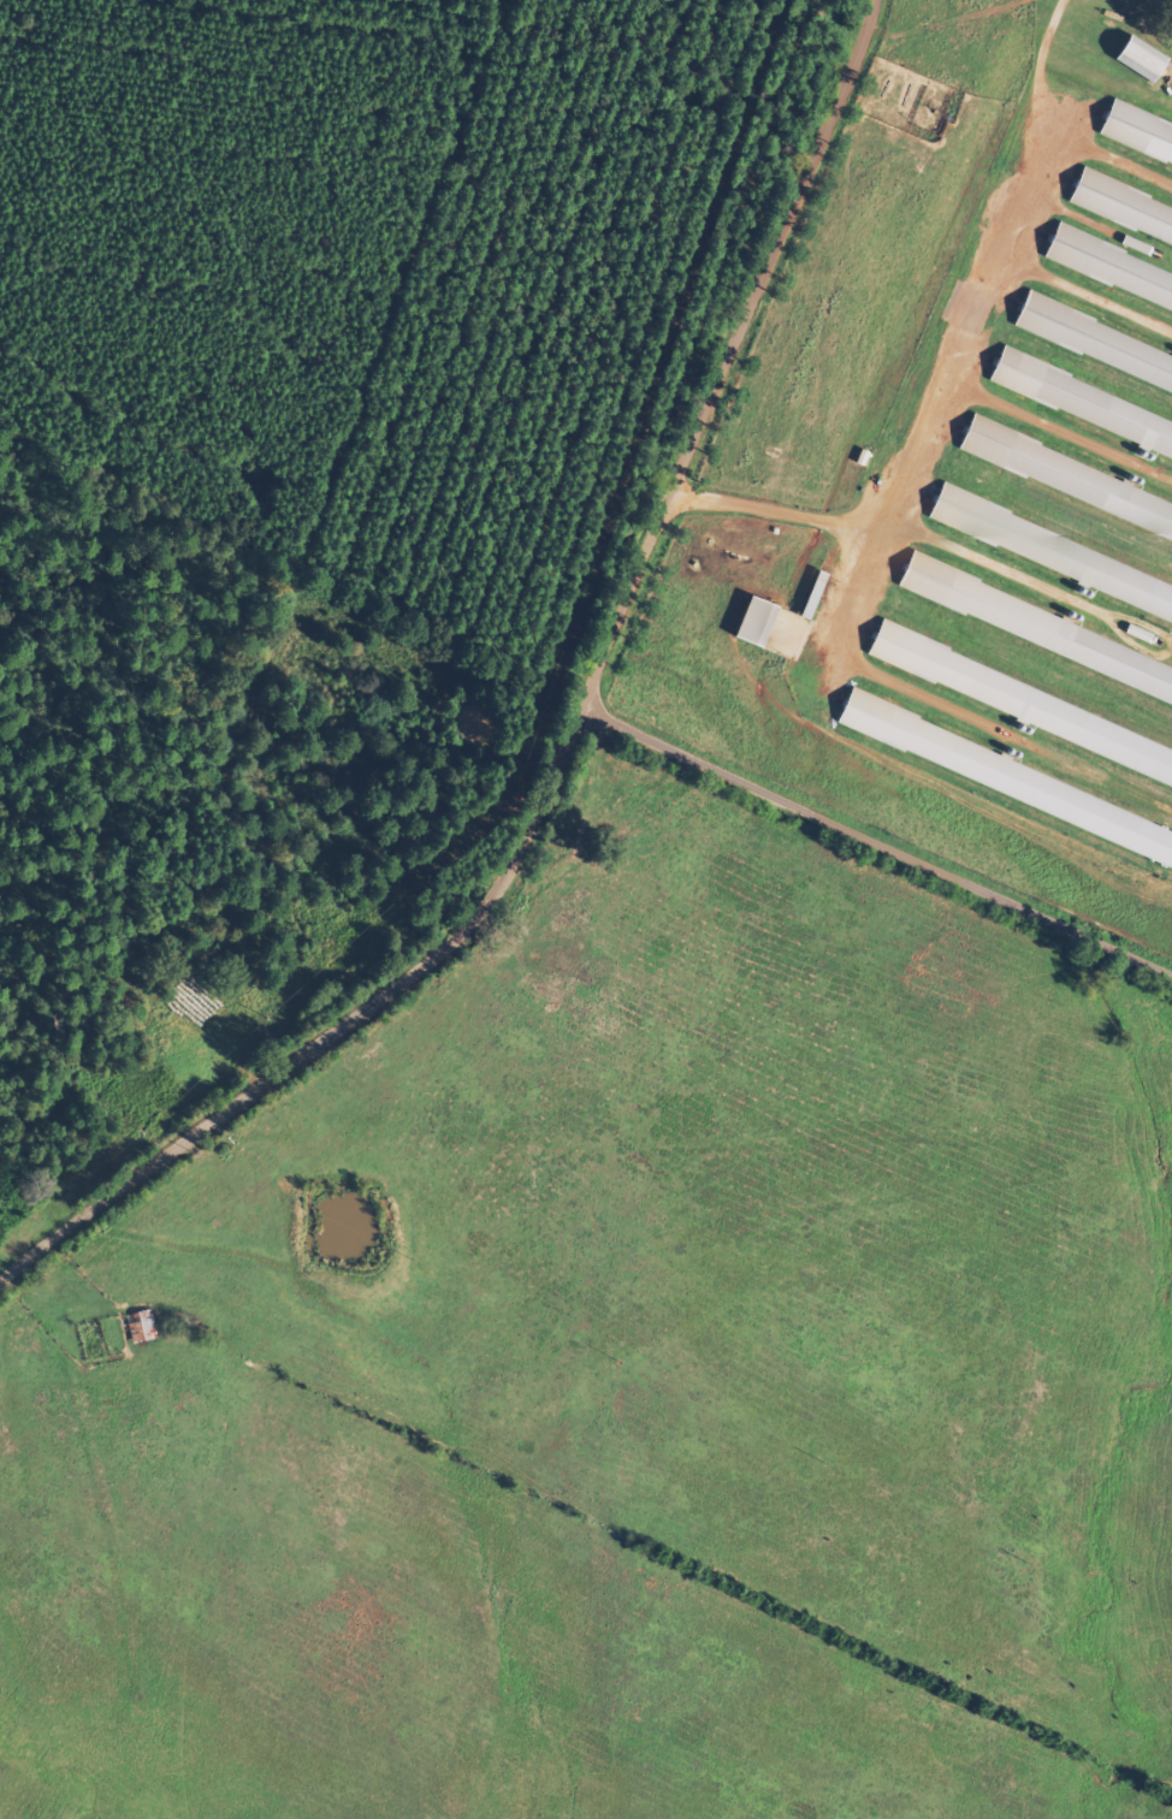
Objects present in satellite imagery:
building: (1144, 57)
building: (1138, 138)
building: (1124, 209)
building: (1141, 244)
building: (1096, 344)
building: (1084, 403)
building: (759, 620)
building: (1038, 626)
building: (1142, 632)
road: (584, 770)
building: (1008, 775)
road: (881, 883)
building: (146, 1325)

